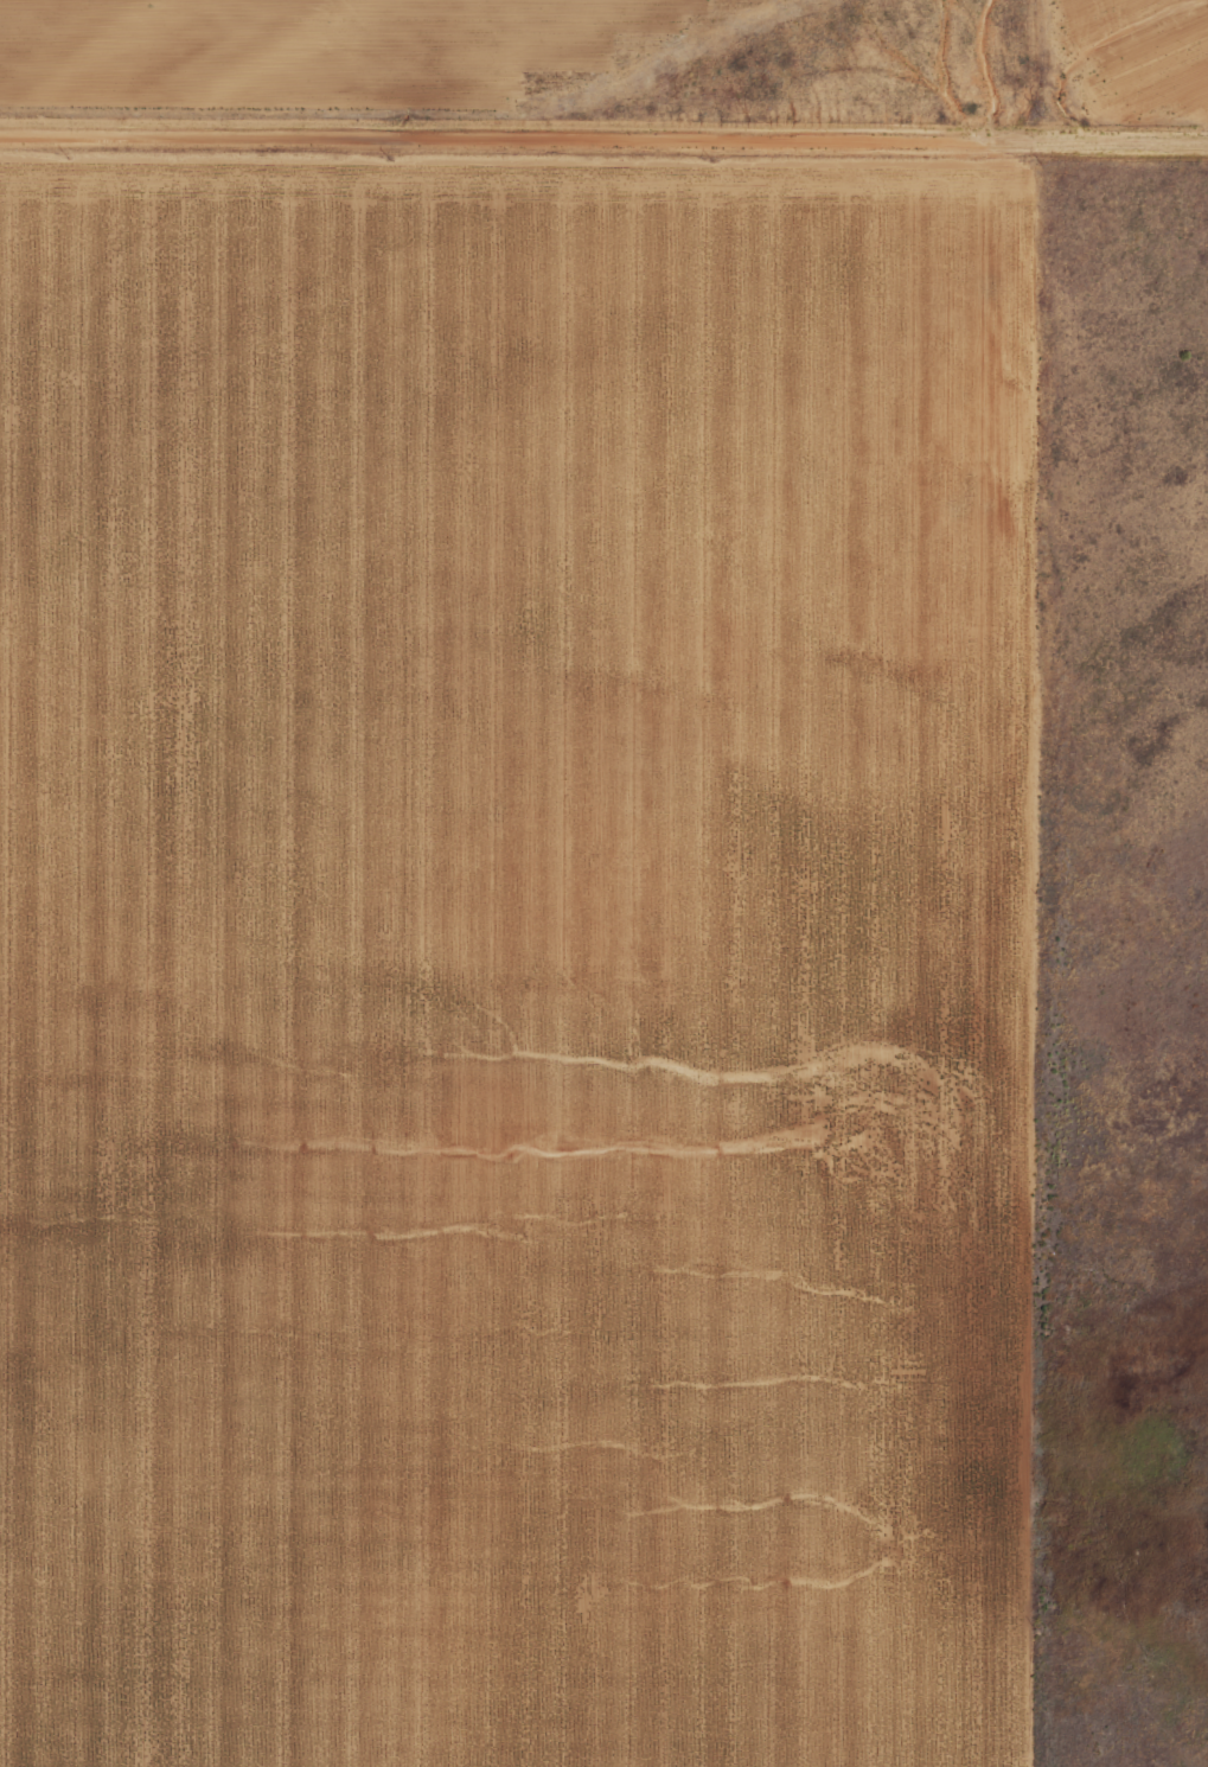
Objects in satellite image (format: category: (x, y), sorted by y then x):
road: (603, 139)

